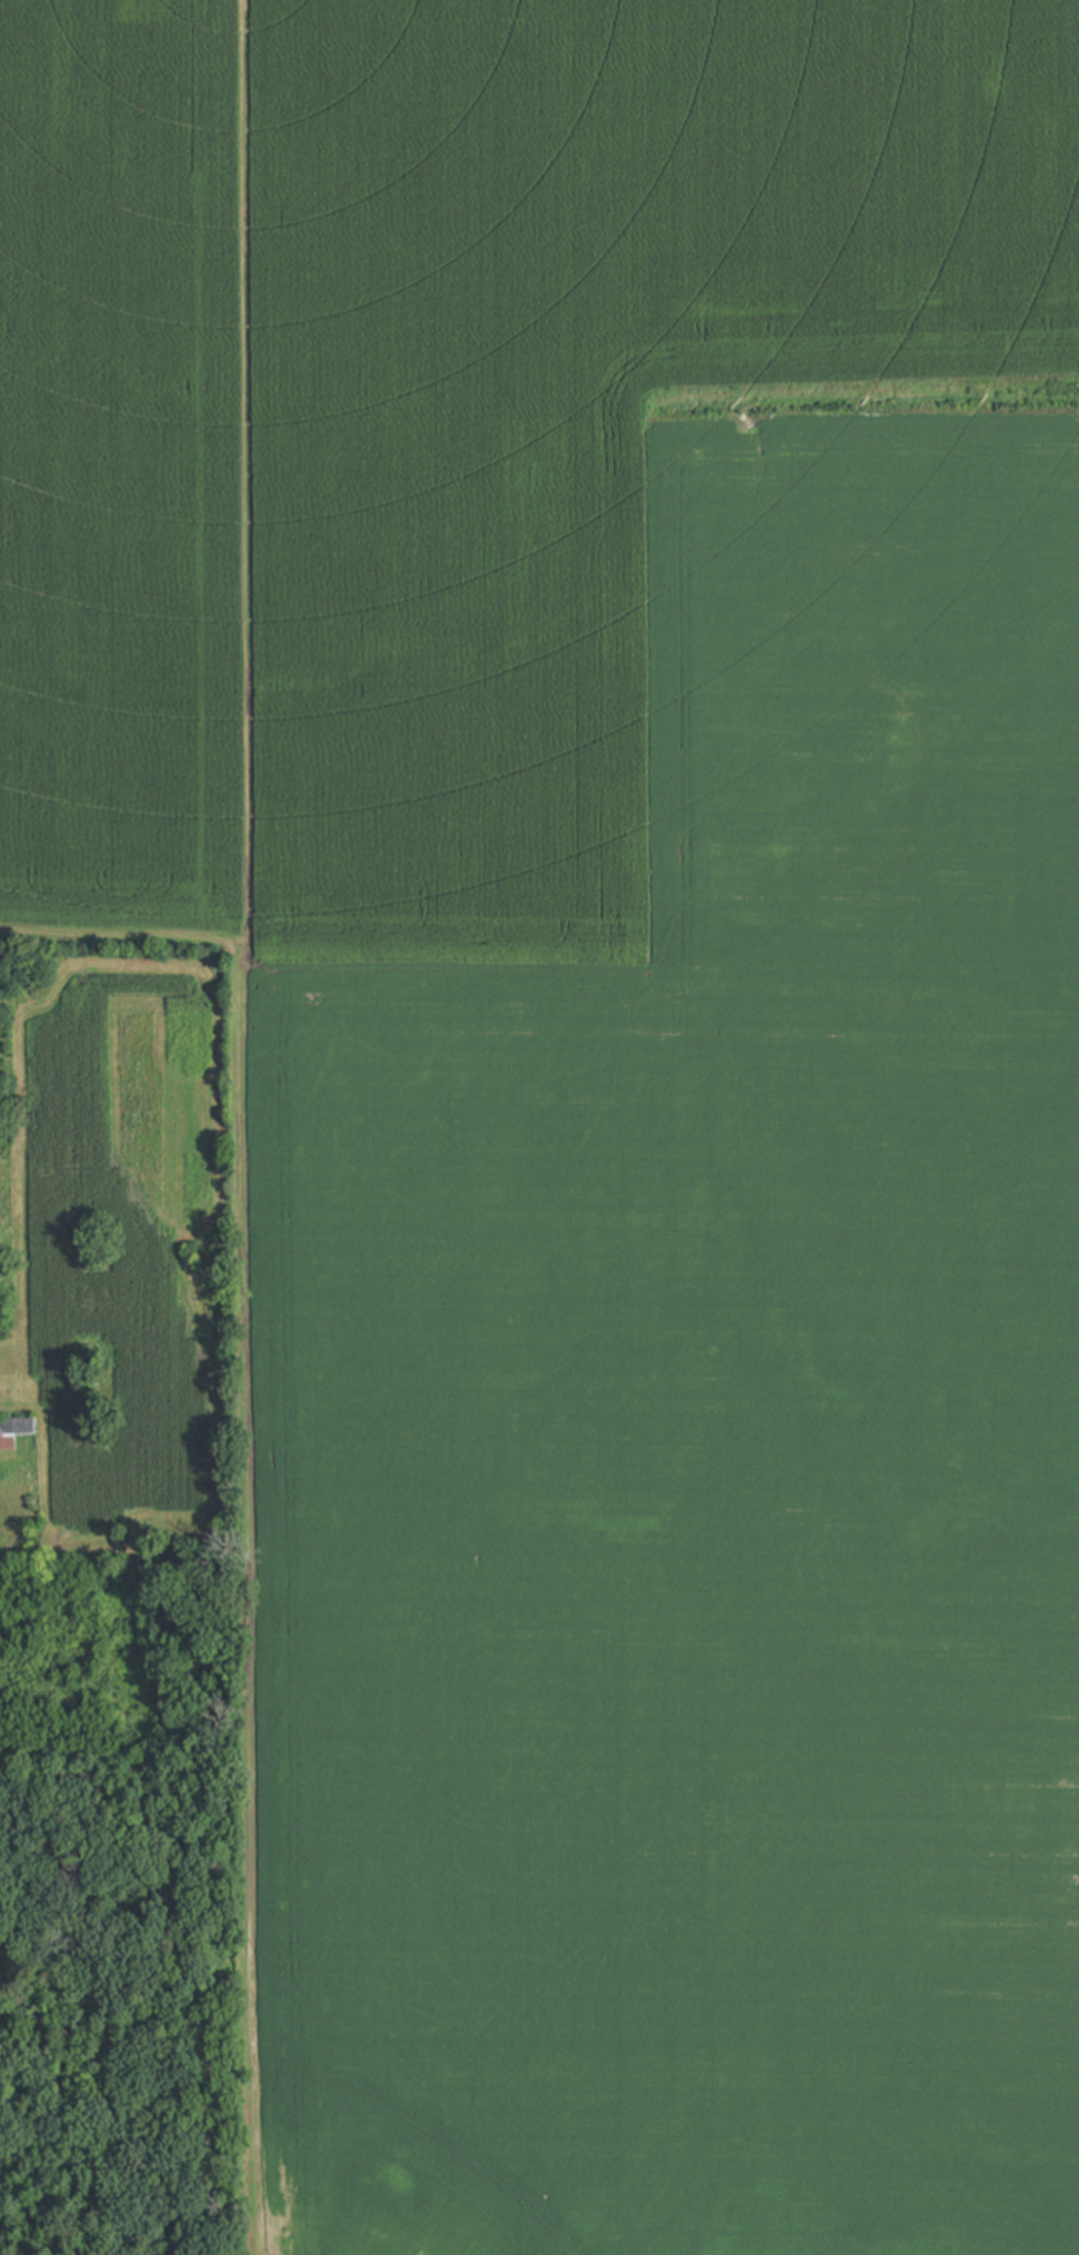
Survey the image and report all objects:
building: (14, 1432)

